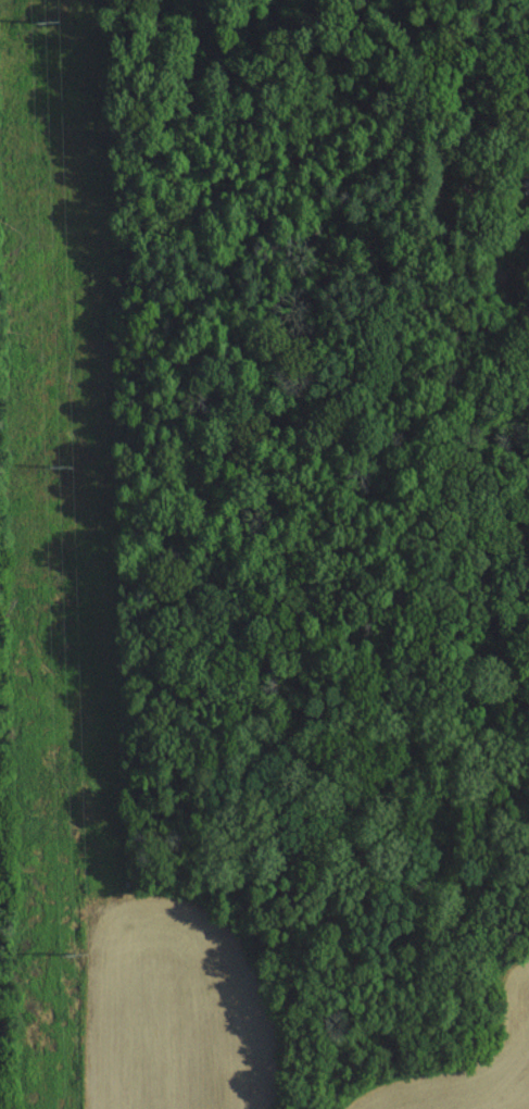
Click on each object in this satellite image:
power tower: (49, 24)
power tower: (68, 471)
power tower: (74, 958)

